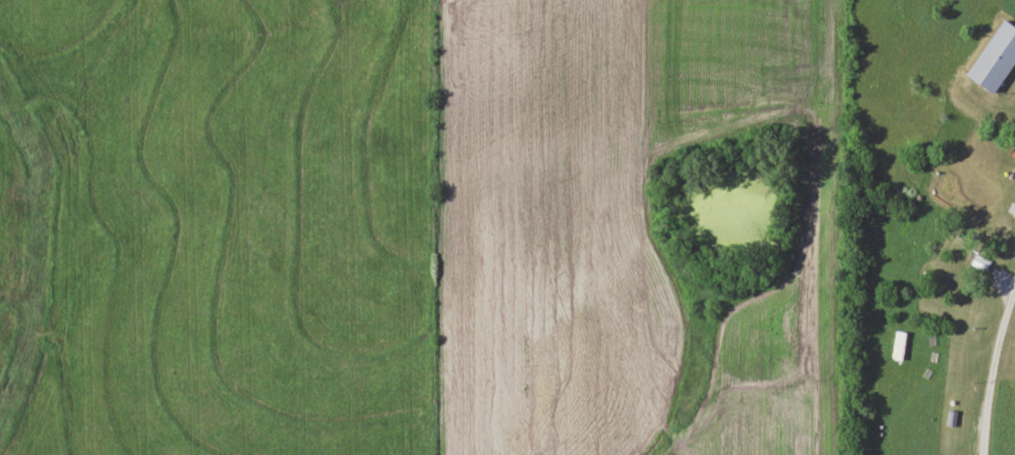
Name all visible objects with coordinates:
building: (994, 57)
building: (994, 172)
road: (1007, 198)
building: (924, 214)
building: (980, 261)

